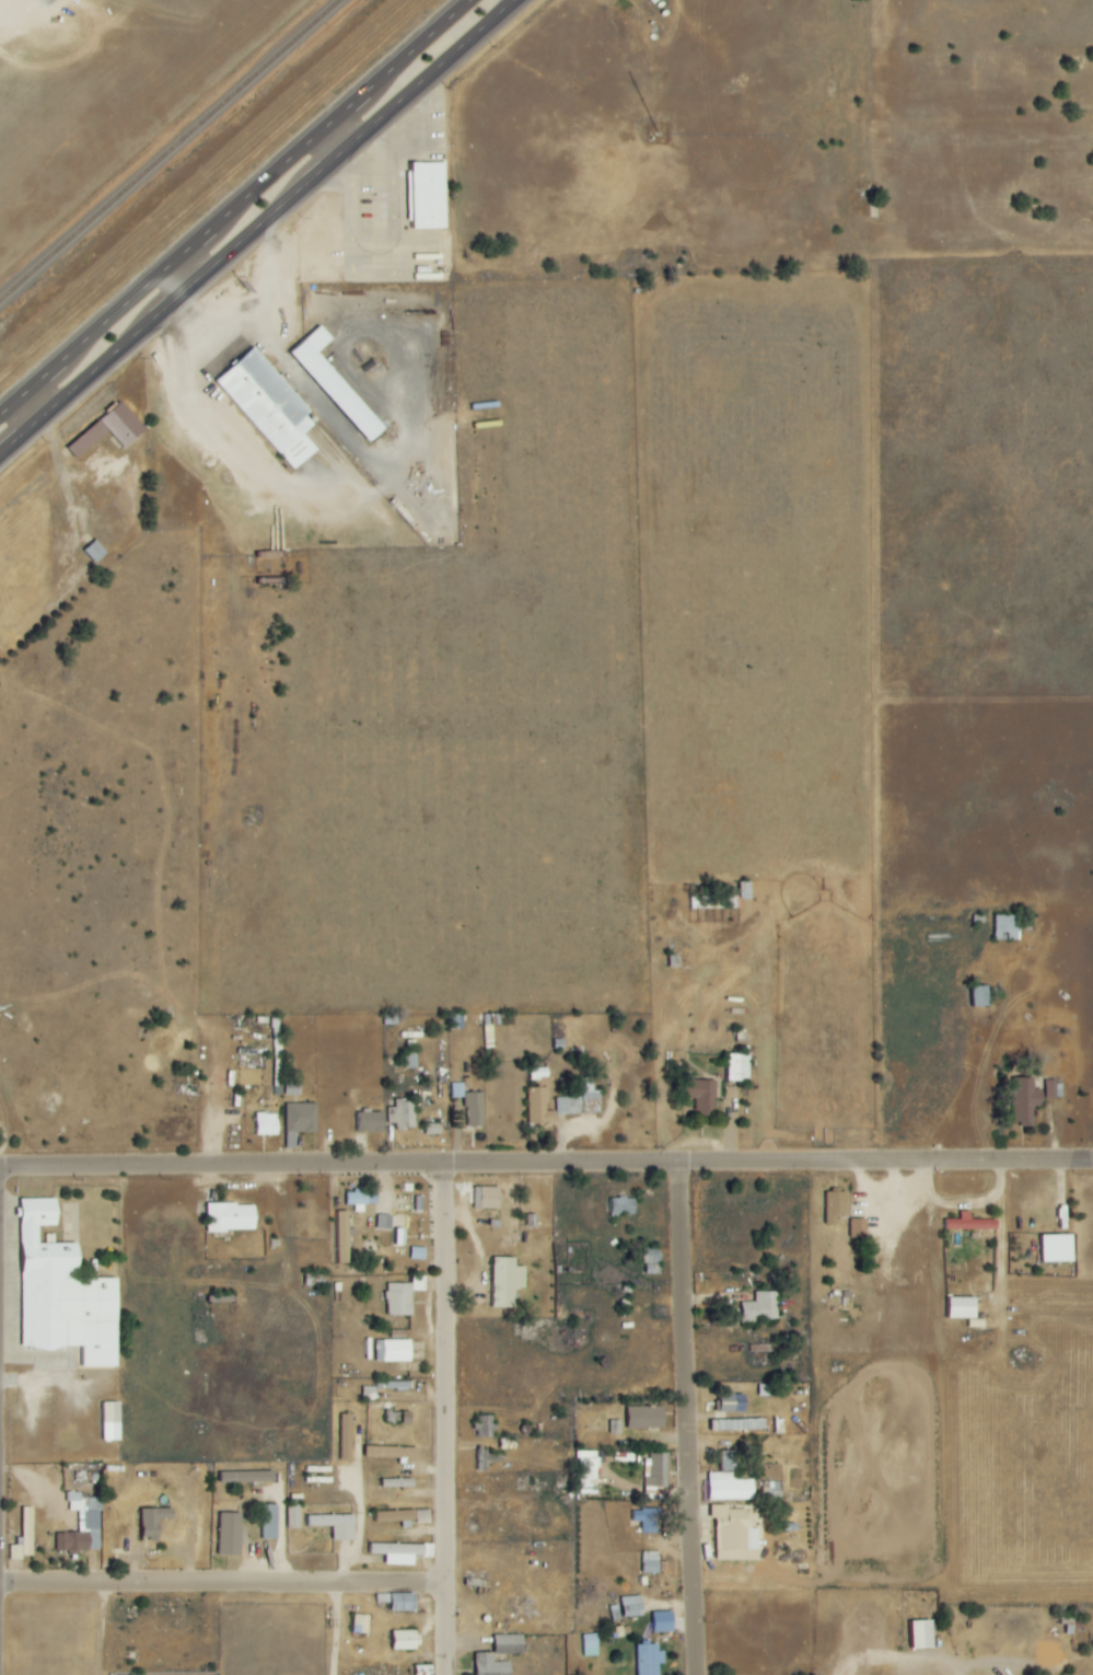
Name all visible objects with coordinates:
road: (339, 128)
railway: (167, 148)
building: (429, 195)
road: (231, 205)
road: (254, 226)
road: (184, 269)
road: (307, 378)
building: (337, 384)
building: (270, 407)
building: (112, 429)
road: (74, 501)
building: (95, 552)
building: (1007, 926)
building: (979, 995)
building: (740, 1066)
building: (293, 1087)
building: (1055, 1088)
building: (704, 1093)
building: (1026, 1100)
building: (562, 1104)
building: (475, 1109)
building: (403, 1113)
building: (301, 1120)
building: (372, 1121)
building: (267, 1123)
building: (433, 1129)
road: (546, 1167)
building: (488, 1198)
building: (624, 1205)
building: (833, 1206)
building: (232, 1217)
building: (384, 1222)
building: (972, 1223)
building: (859, 1227)
building: (342, 1237)
building: (1055, 1249)
building: (652, 1256)
building: (508, 1281)
building: (65, 1294)
building: (760, 1307)
building: (964, 1307)
building: (393, 1351)
building: (733, 1403)
building: (647, 1417)
road: (685, 1419)
road: (440, 1420)
building: (113, 1421)
building: (739, 1424)
building: (486, 1426)
building: (342, 1435)
building: (393, 1453)
building: (658, 1469)
building: (589, 1472)
building: (248, 1476)
building: (398, 1482)
building: (729, 1487)
road: (362, 1497)
building: (293, 1516)
building: (396, 1516)
building: (423, 1516)
building: (648, 1520)
building: (92, 1522)
building: (150, 1522)
building: (266, 1522)
building: (335, 1525)
building: (228, 1534)
building: (734, 1535)
building: (25, 1536)
building: (403, 1552)
building: (651, 1562)
road: (220, 1580)
building: (399, 1602)
building: (632, 1606)
building: (663, 1621)
building: (361, 1624)
road: (98, 1627)
road: (333, 1627)
building: (921, 1634)
building: (406, 1640)
building: (510, 1644)
building: (590, 1645)
building: (649, 1660)
building: (492, 1665)

